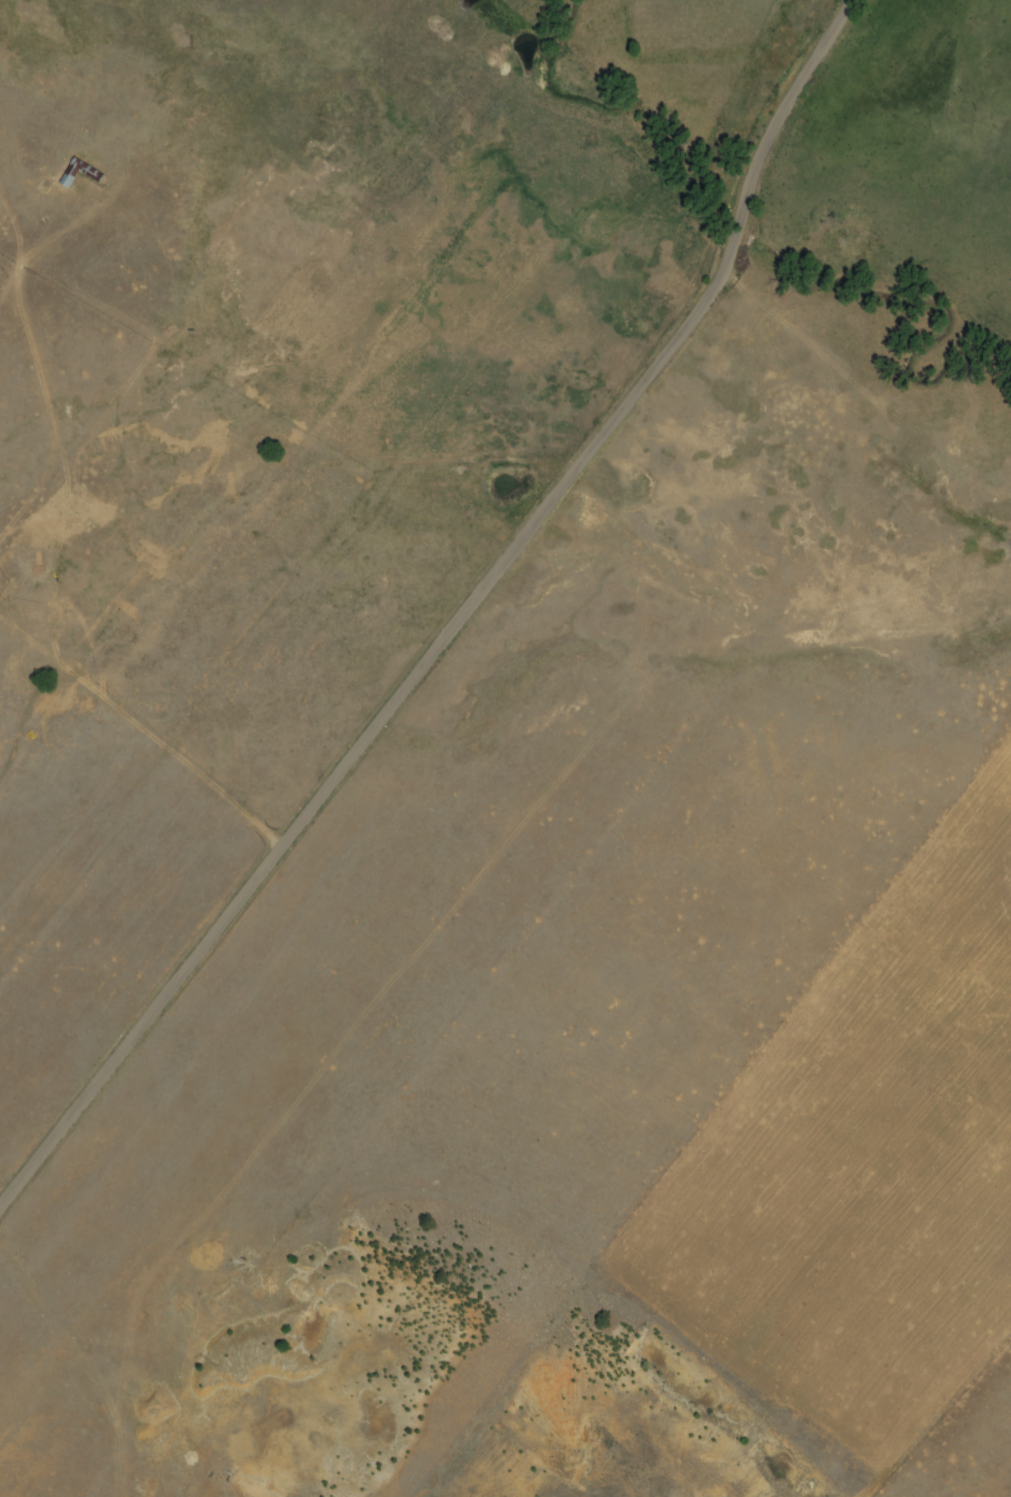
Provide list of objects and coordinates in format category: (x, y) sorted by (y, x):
building: (90, 173)
road: (451, 634)

